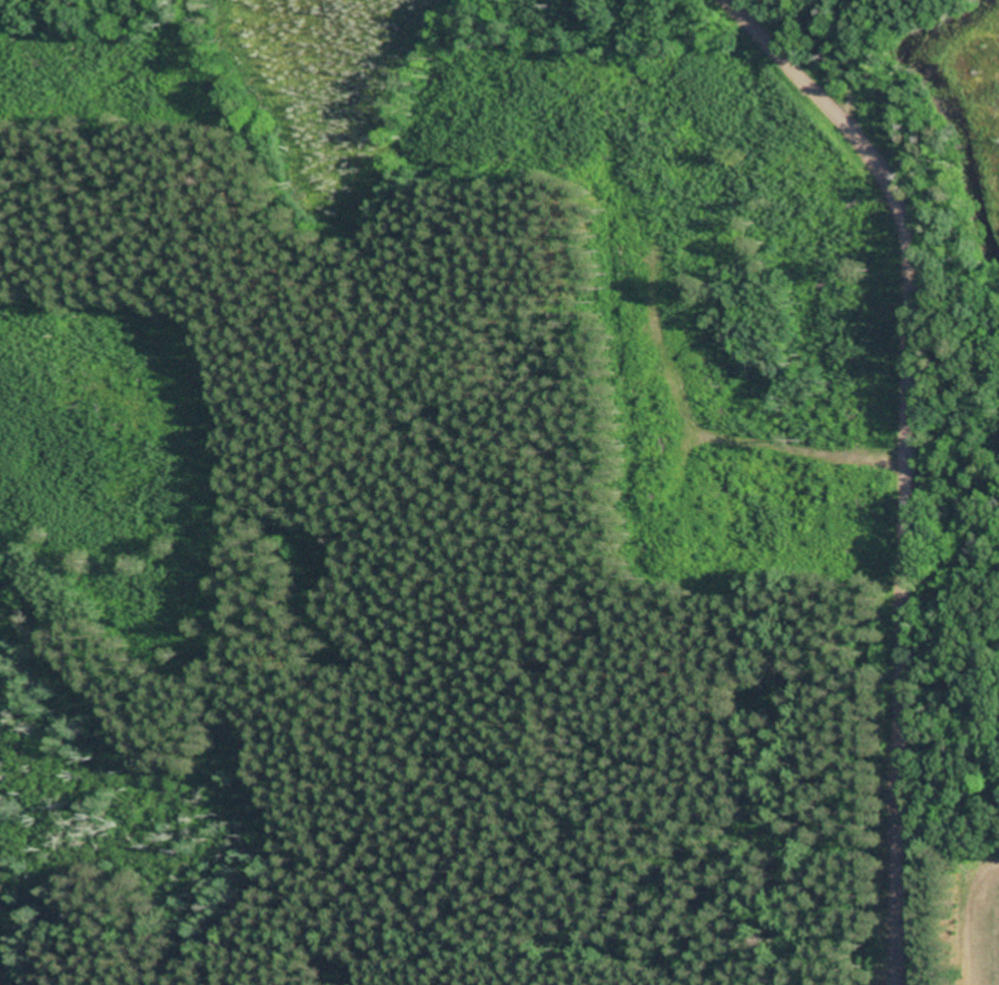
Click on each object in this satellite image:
road: (911, 456)

